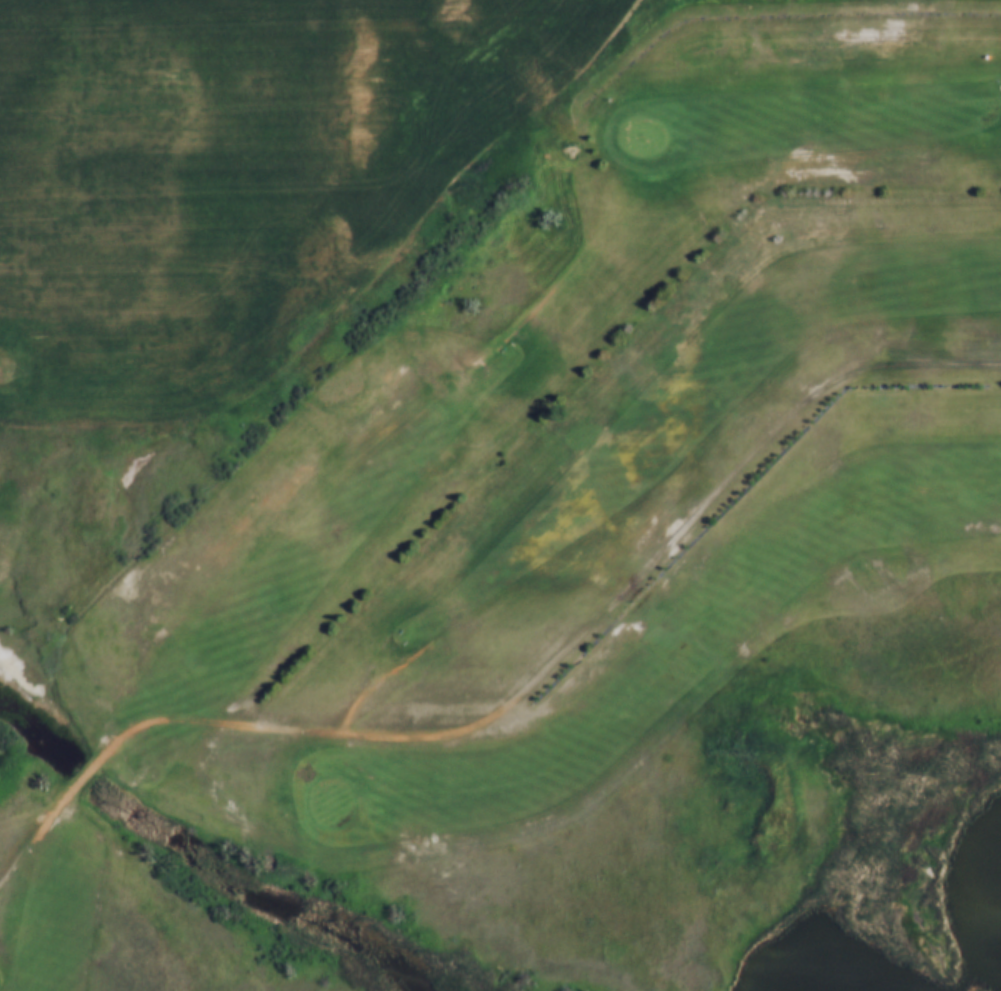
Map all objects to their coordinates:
park: (584, 574)
road: (228, 720)

